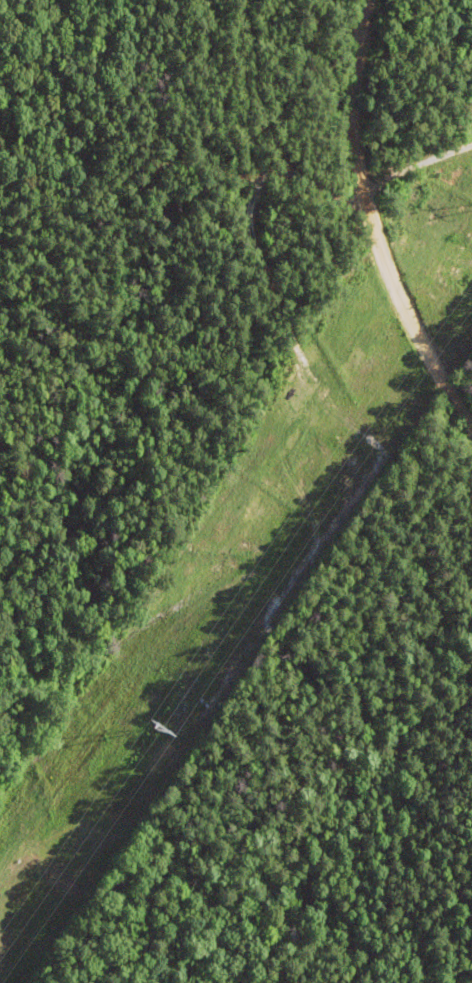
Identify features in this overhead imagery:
road: (434, 114)
road: (403, 165)
power tower: (158, 728)

